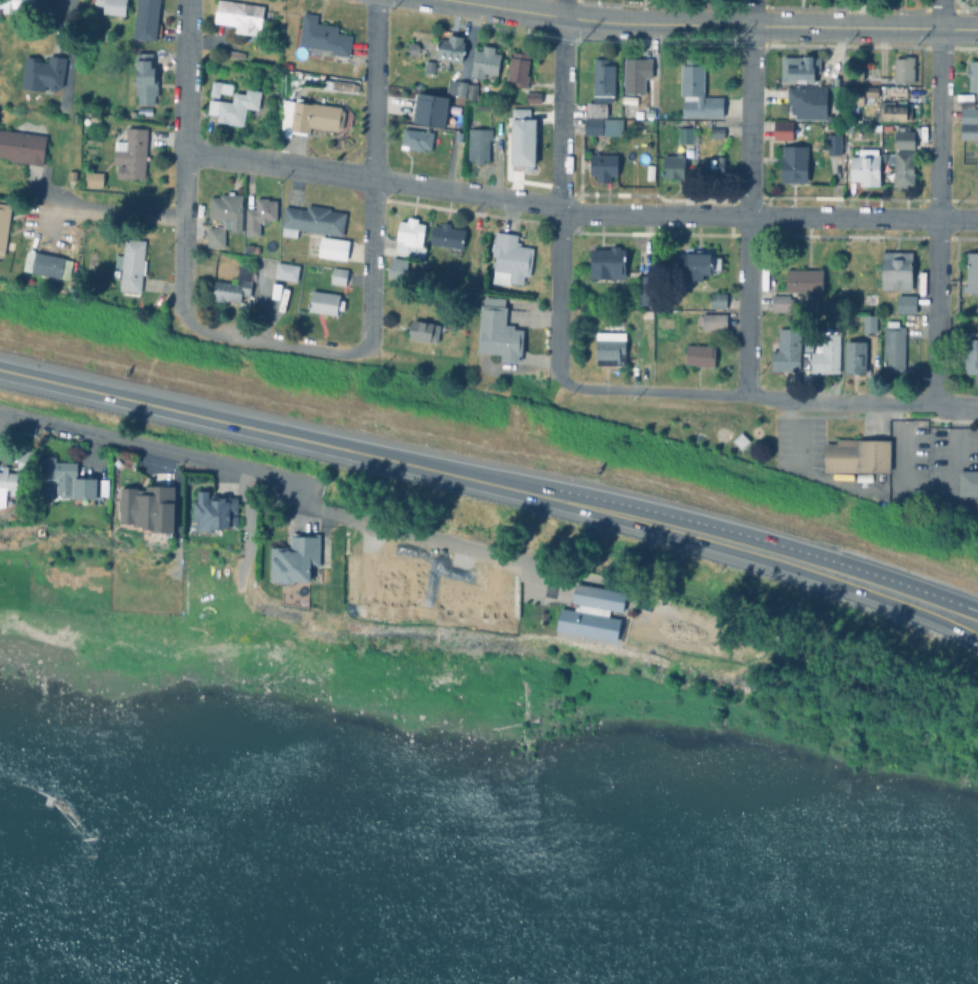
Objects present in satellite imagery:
building: (18, 7)
building: (114, 7)
building: (149, 14)
road: (939, 15)
building: (244, 18)
road: (592, 20)
road: (863, 29)
building: (147, 36)
building: (326, 42)
building: (414, 51)
building: (451, 52)
building: (235, 56)
building: (488, 66)
building: (430, 68)
building: (799, 68)
building: (904, 68)
building: (521, 70)
building: (44, 75)
building: (973, 75)
building: (639, 76)
building: (147, 80)
building: (459, 86)
building: (341, 87)
building: (221, 90)
building: (604, 91)
building: (476, 92)
building: (698, 92)
building: (862, 92)
building: (457, 93)
building: (535, 100)
building: (807, 101)
building: (967, 103)
building: (236, 109)
building: (893, 110)
building: (969, 114)
building: (96, 118)
building: (313, 119)
building: (529, 123)
road: (938, 125)
building: (604, 129)
building: (782, 129)
building: (969, 130)
building: (719, 132)
building: (685, 134)
building: (903, 136)
building: (417, 141)
building: (833, 143)
building: (480, 147)
building: (22, 148)
building: (528, 150)
road: (182, 154)
building: (133, 156)
building: (793, 163)
road: (277, 165)
building: (674, 166)
building: (712, 166)
building: (902, 166)
building: (977, 167)
building: (864, 168)
building: (604, 169)
road: (371, 171)
building: (96, 181)
road: (559, 185)
road: (465, 194)
road: (747, 197)
road: (106, 208)
building: (260, 217)
building: (226, 219)
road: (768, 219)
building: (314, 222)
building: (4, 227)
building: (412, 240)
building: (449, 240)
building: (252, 251)
building: (335, 251)
building: (511, 261)
building: (699, 264)
building: (610, 265)
building: (133, 267)
building: (399, 269)
building: (428, 269)
building: (896, 269)
building: (50, 270)
building: (288, 273)
building: (971, 273)
building: (340, 278)
building: (803, 279)
building: (473, 282)
building: (472, 286)
building: (234, 288)
building: (648, 291)
building: (717, 299)
building: (781, 302)
building: (906, 302)
building: (327, 304)
road: (936, 312)
building: (648, 315)
building: (712, 320)
building: (870, 322)
road: (269, 345)
road: (646, 392)
road: (862, 402)
park: (682, 421)
building: (739, 440)
road: (139, 443)
road: (492, 485)
road: (393, 528)

